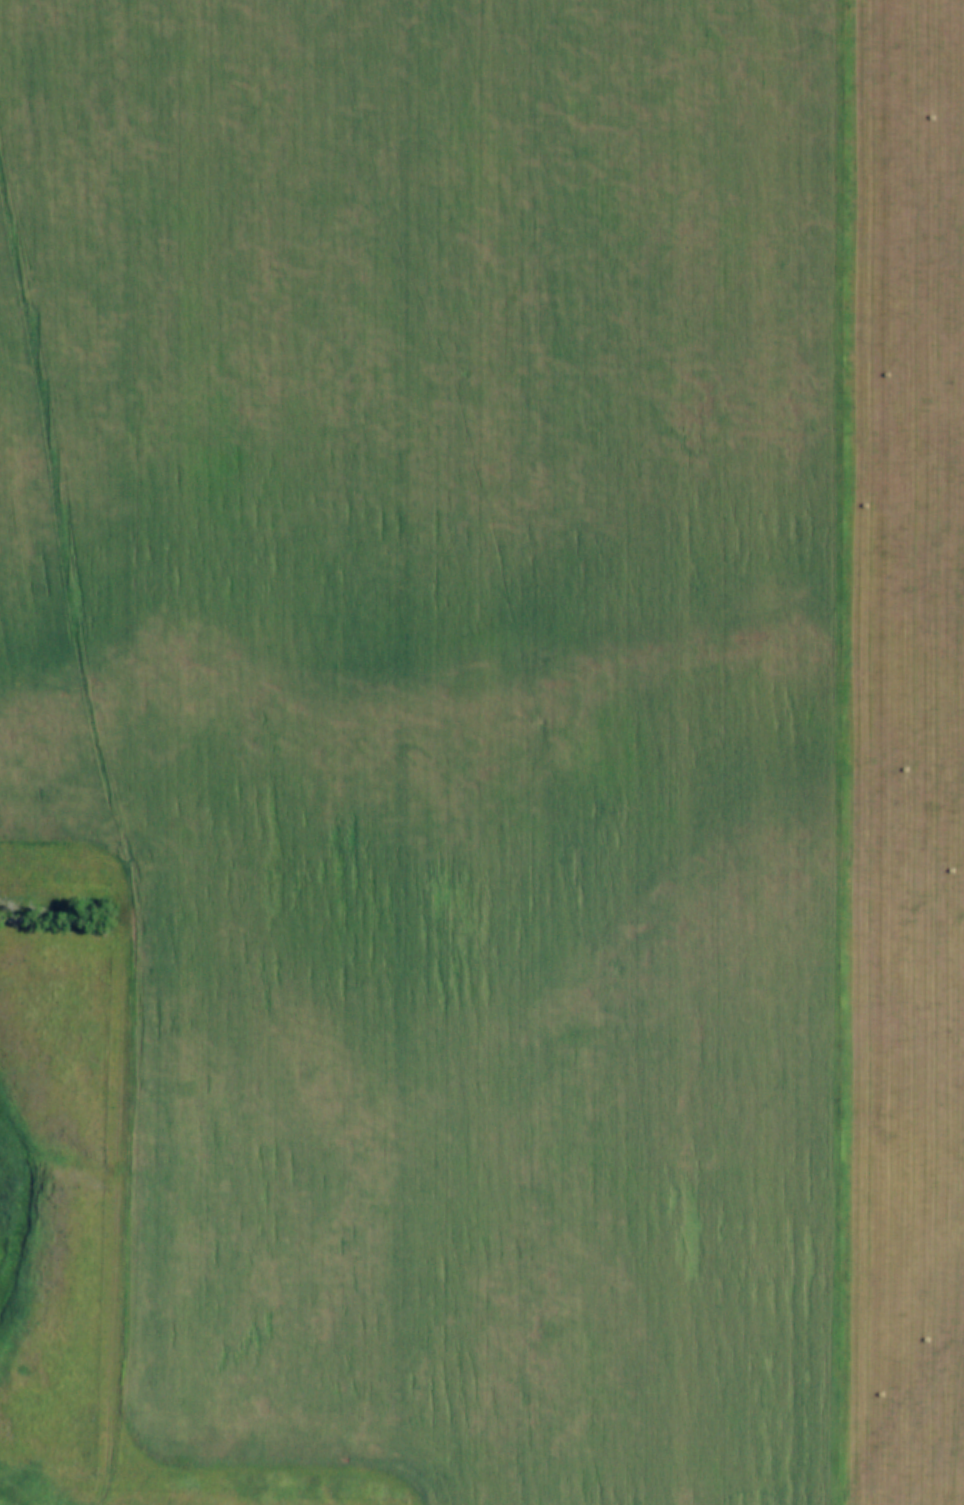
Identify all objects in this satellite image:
building: (4, 1502)

